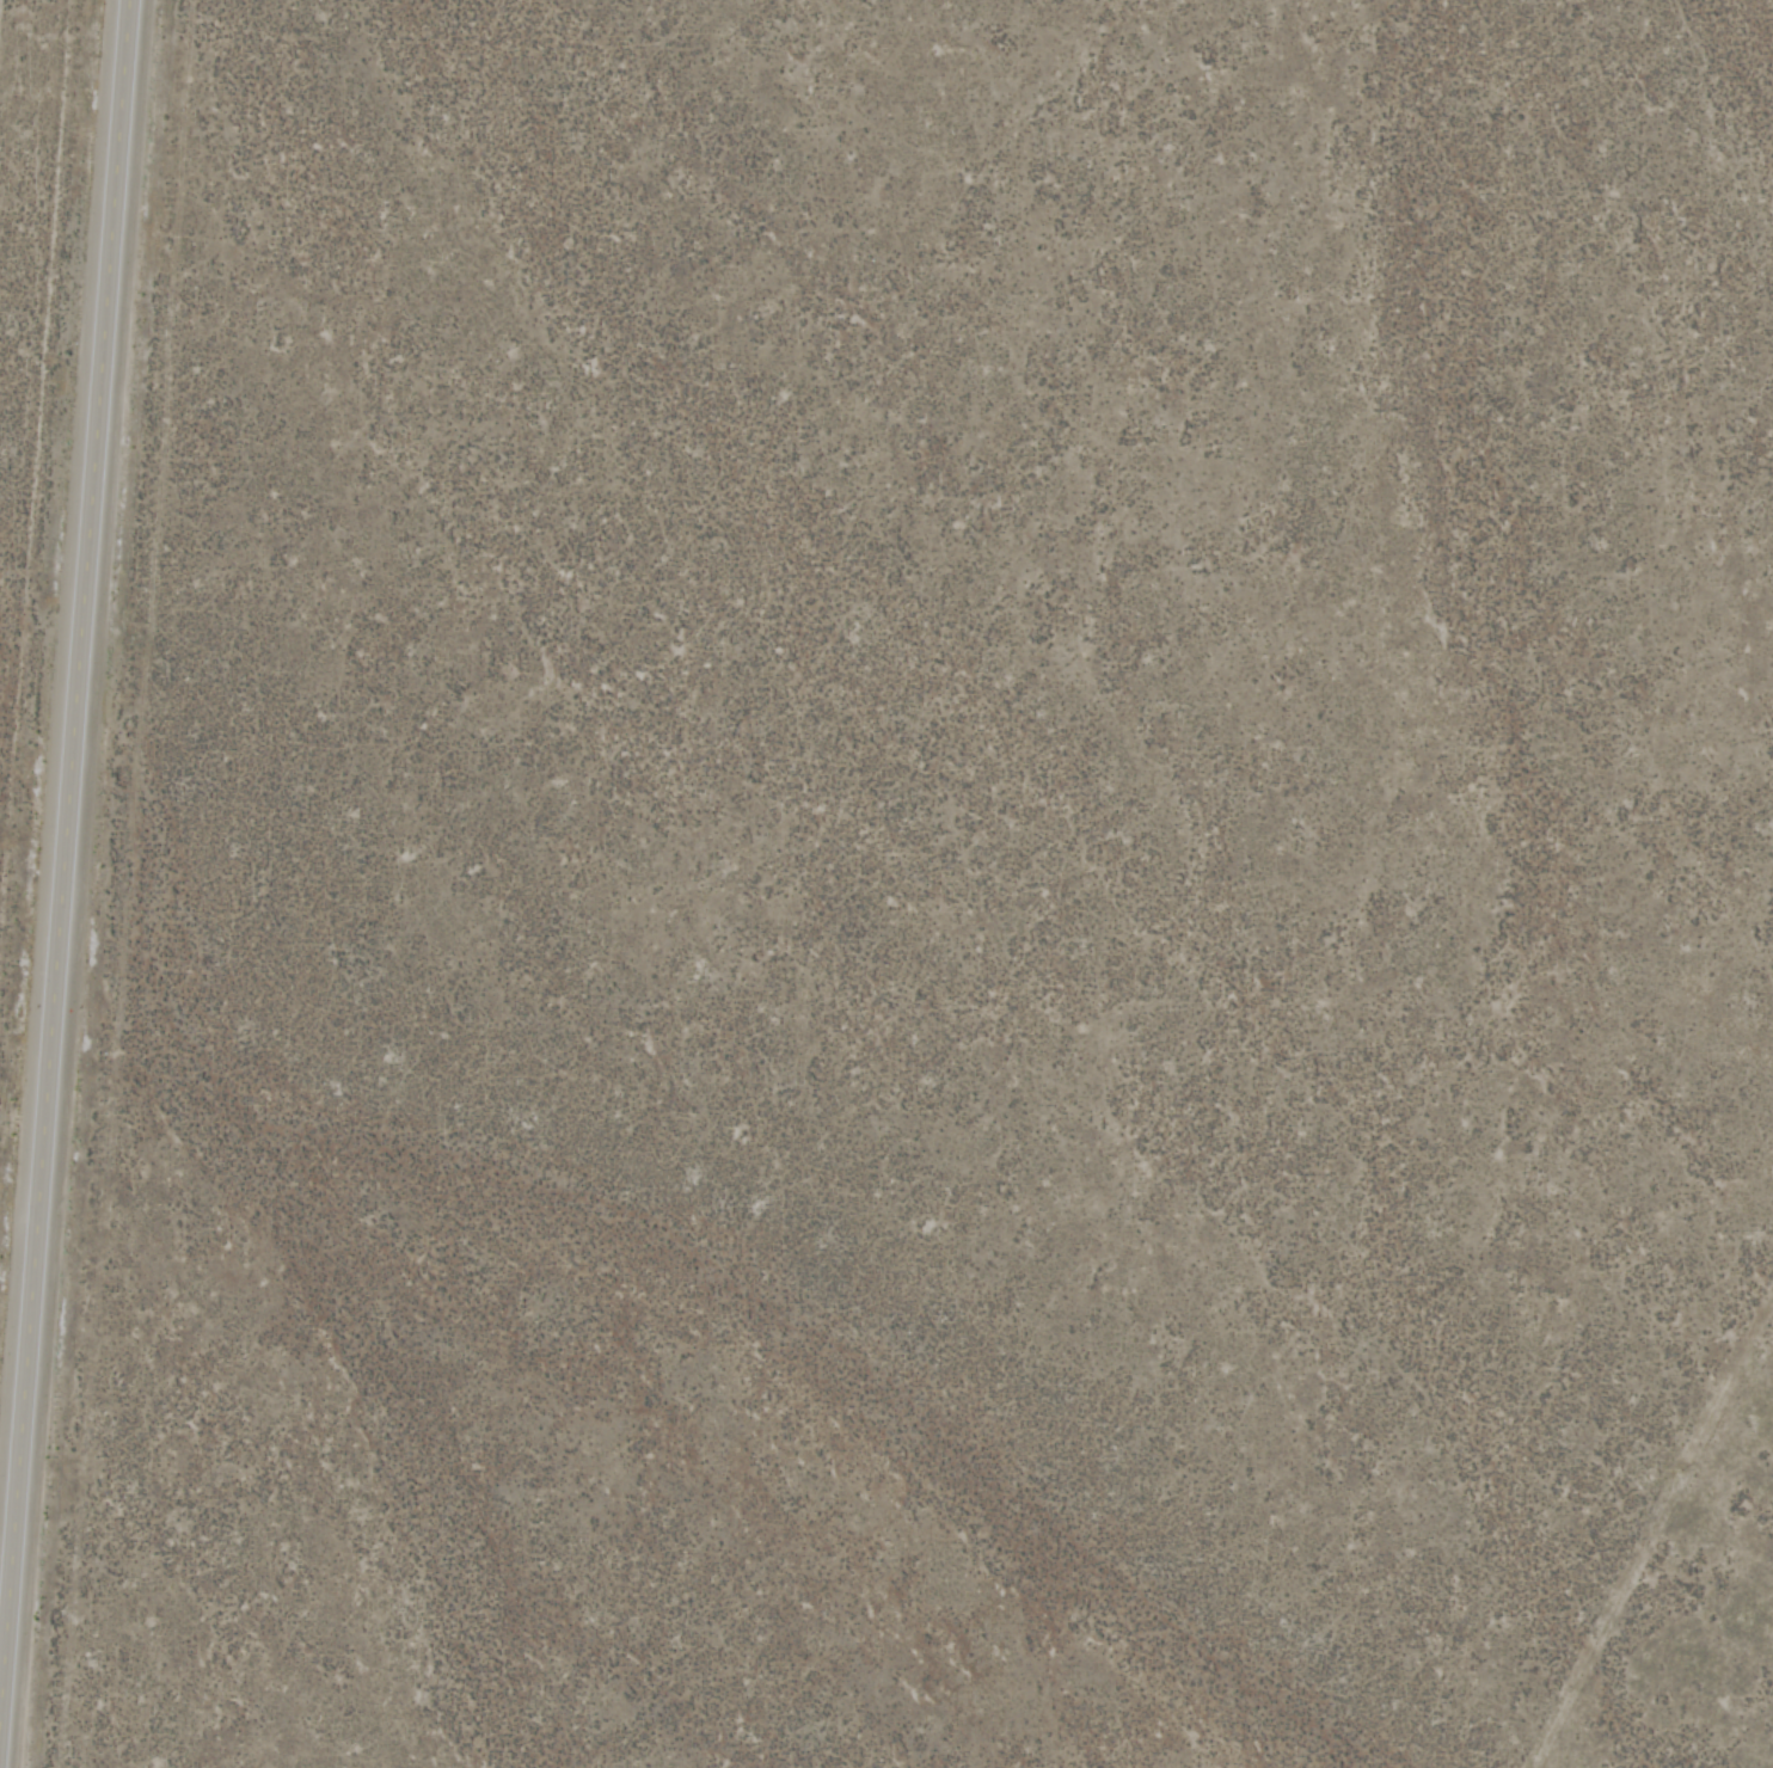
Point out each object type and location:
road: (62, 819)

